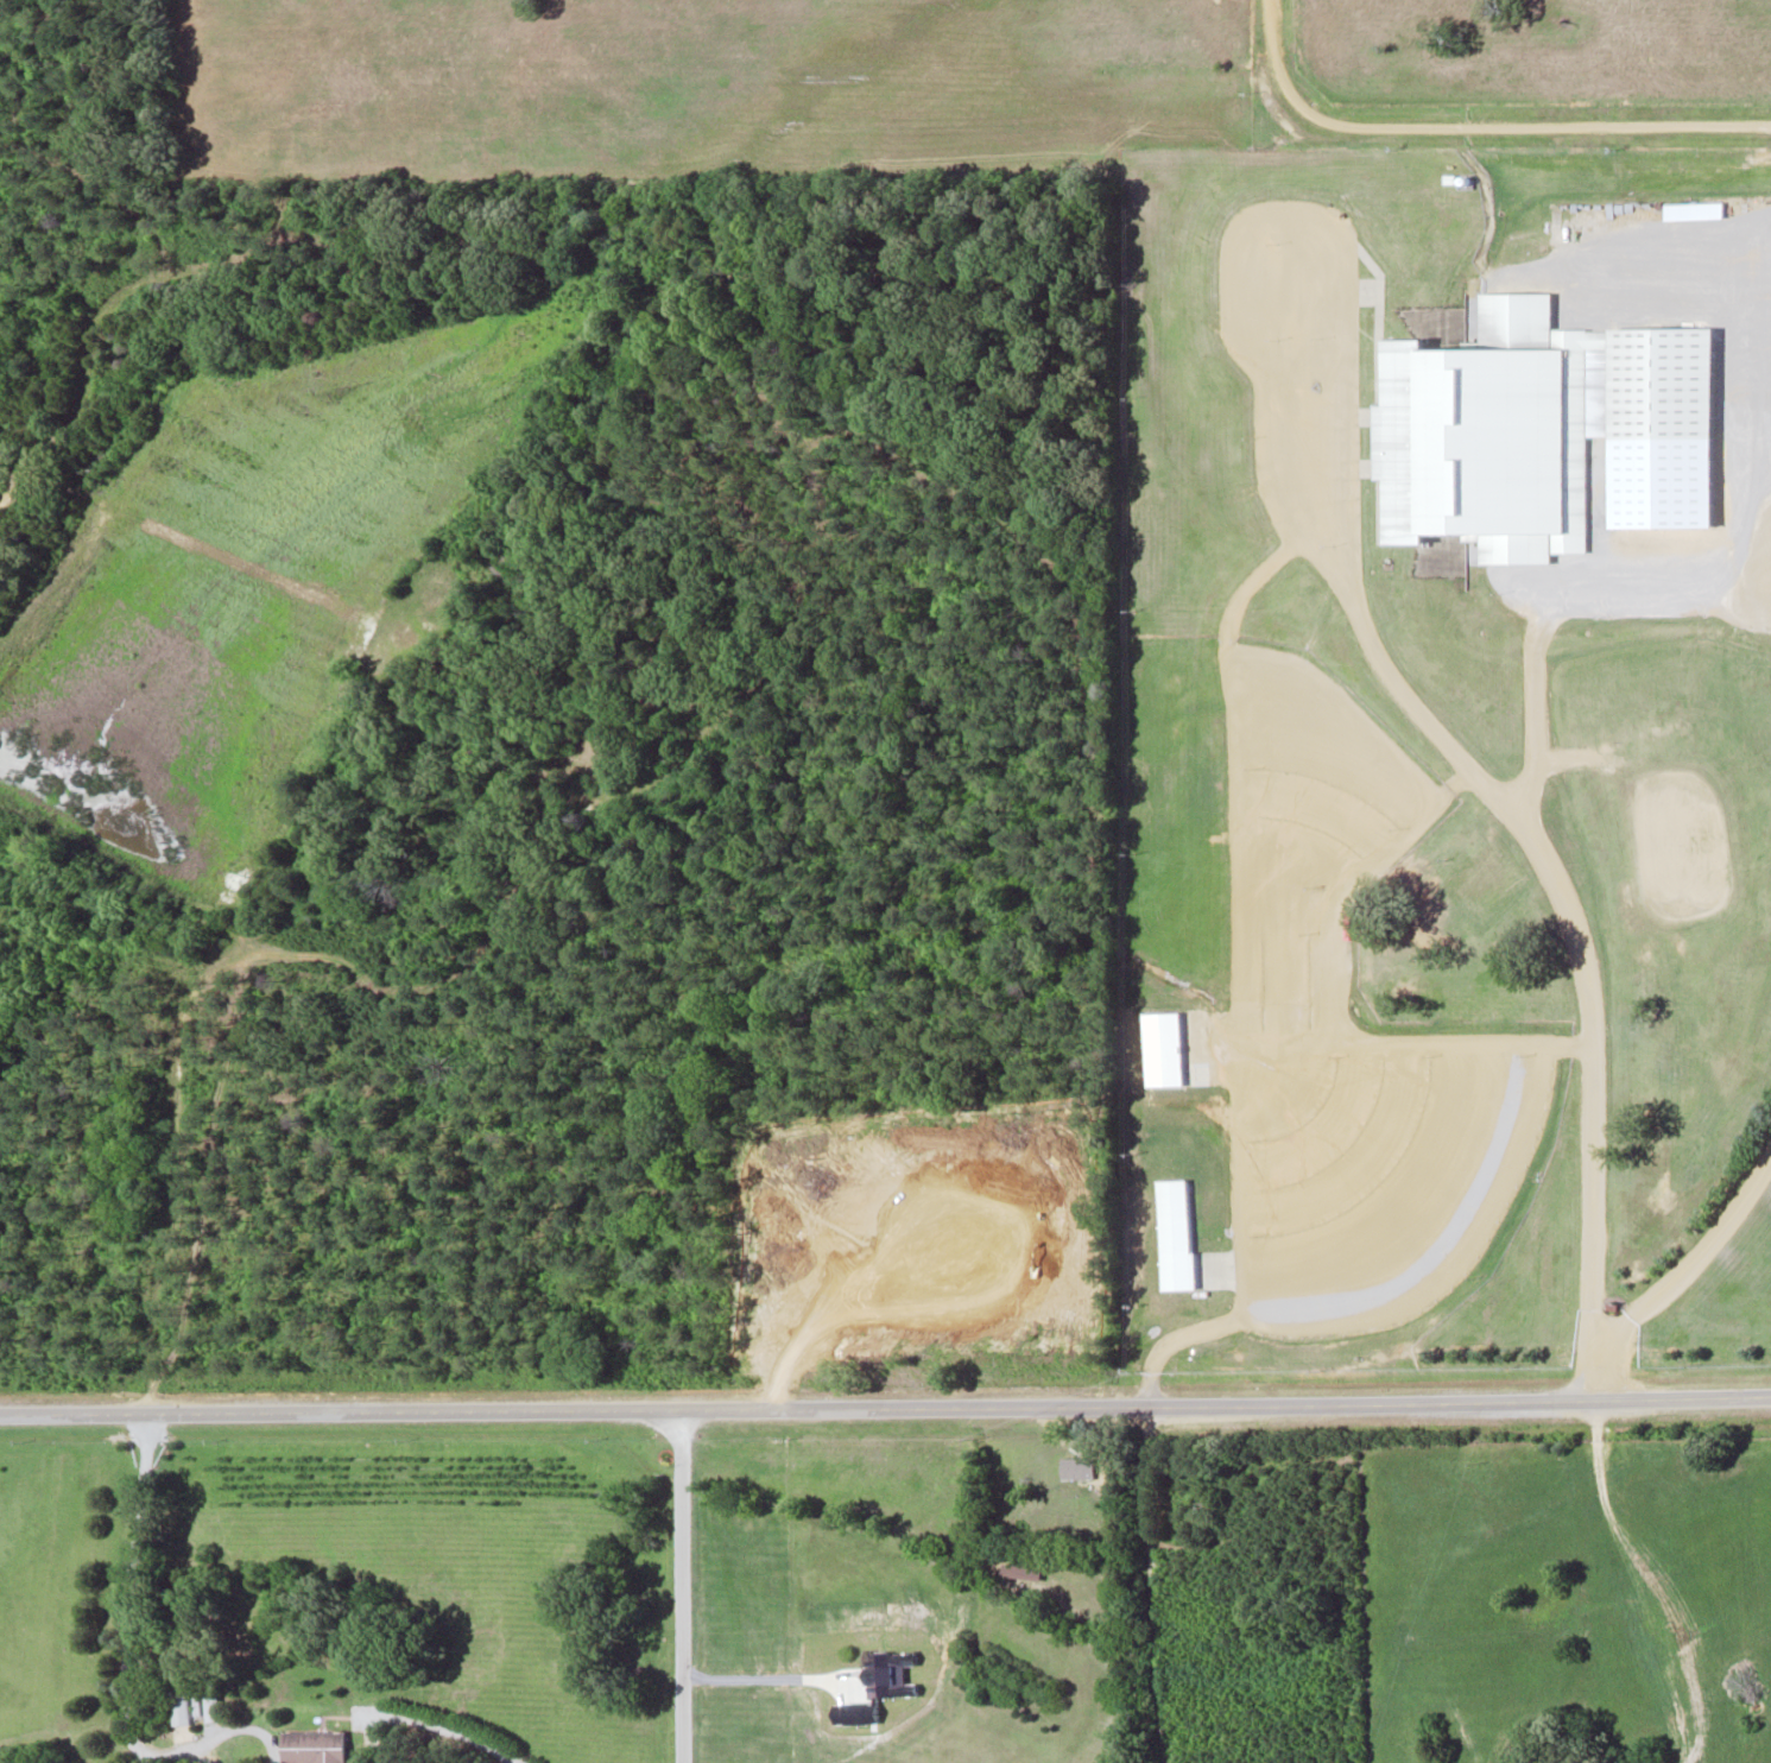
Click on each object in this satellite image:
road: (1473, 127)
building: (1523, 422)
road: (1537, 847)
road: (1694, 1257)
road: (885, 1403)
building: (1076, 1467)
building: (1019, 1571)
road: (677, 1584)
building: (179, 1704)
building: (310, 1745)

